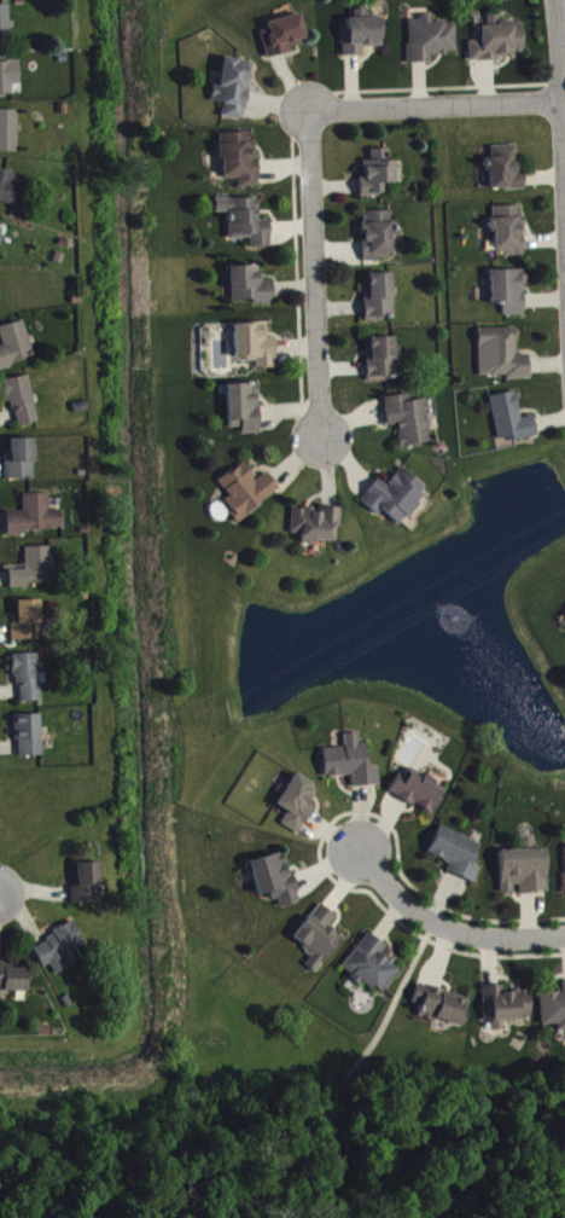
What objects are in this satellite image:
building: (4, 0)
building: (5, 33)
building: (361, 40)
building: (284, 41)
building: (430, 46)
building: (499, 47)
road: (558, 53)
building: (8, 83)
building: (233, 94)
building: (10, 138)
road: (563, 151)
road: (314, 153)
building: (239, 163)
building: (505, 175)
building: (377, 180)
building: (8, 193)
building: (245, 227)
building: (0, 232)
building: (508, 237)
building: (378, 242)
building: (1, 245)
building: (250, 291)
building: (508, 297)
building: (0, 302)
building: (379, 303)
building: (14, 350)
building: (255, 350)
building: (500, 361)
building: (380, 365)
building: (23, 407)
building: (244, 414)
building: (511, 425)
building: (408, 427)
building: (21, 466)
building: (246, 497)
building: (395, 503)
building: (35, 522)
building: (316, 530)
building: (34, 574)
building: (27, 627)
building: (28, 684)
building: (30, 742)
building: (351, 770)
building: (419, 797)
building: (298, 810)
building: (456, 860)
building: (564, 866)
building: (524, 877)
building: (275, 886)
building: (87, 891)
road: (444, 927)
building: (320, 942)
building: (59, 956)
building: (371, 971)
building: (12, 985)
building: (442, 1011)
building: (505, 1013)
building: (553, 1015)
road: (357, 1066)
park: (211, 1153)

